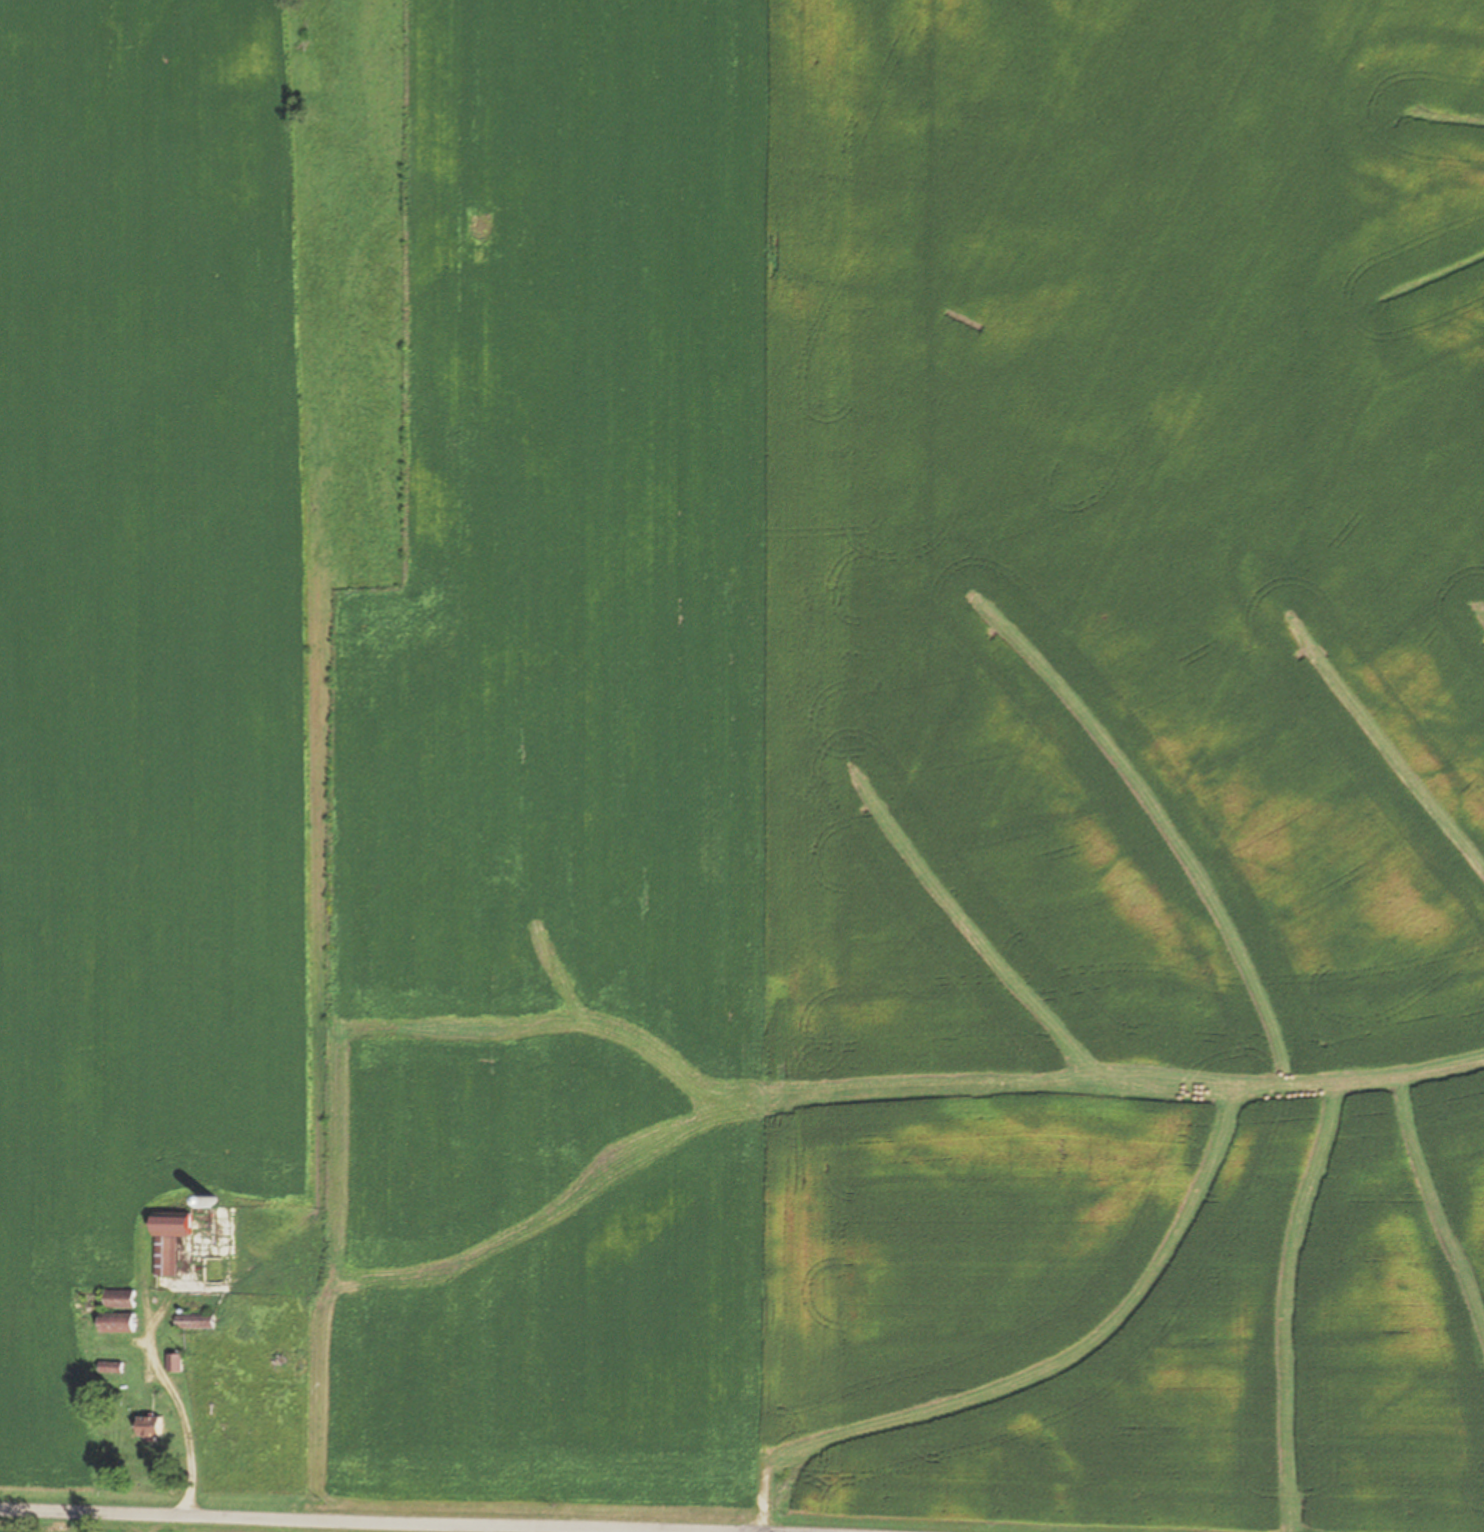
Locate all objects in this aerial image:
building: (176, 1240)
building: (124, 1299)
building: (199, 1320)
building: (122, 1322)
building: (177, 1362)
building: (113, 1367)
building: (155, 1427)
road: (427, 1516)
road: (769, 1530)

